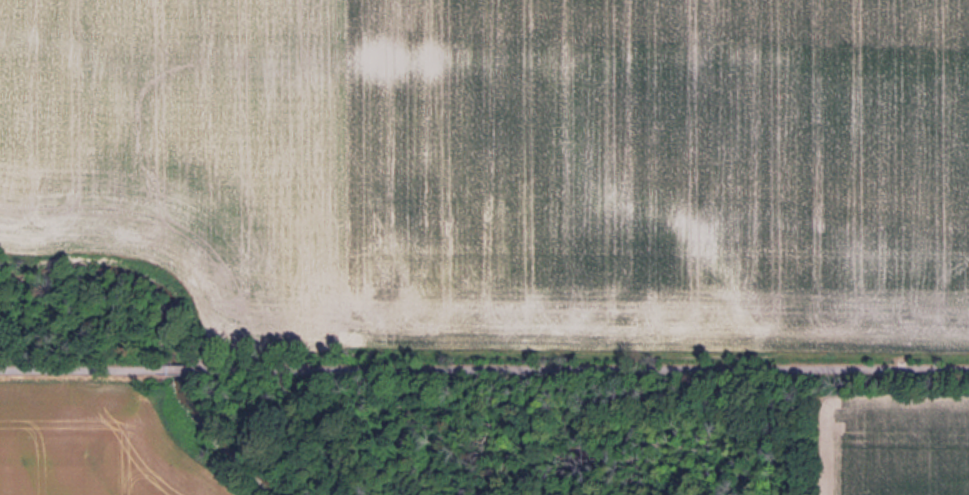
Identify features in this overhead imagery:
road: (484, 366)

